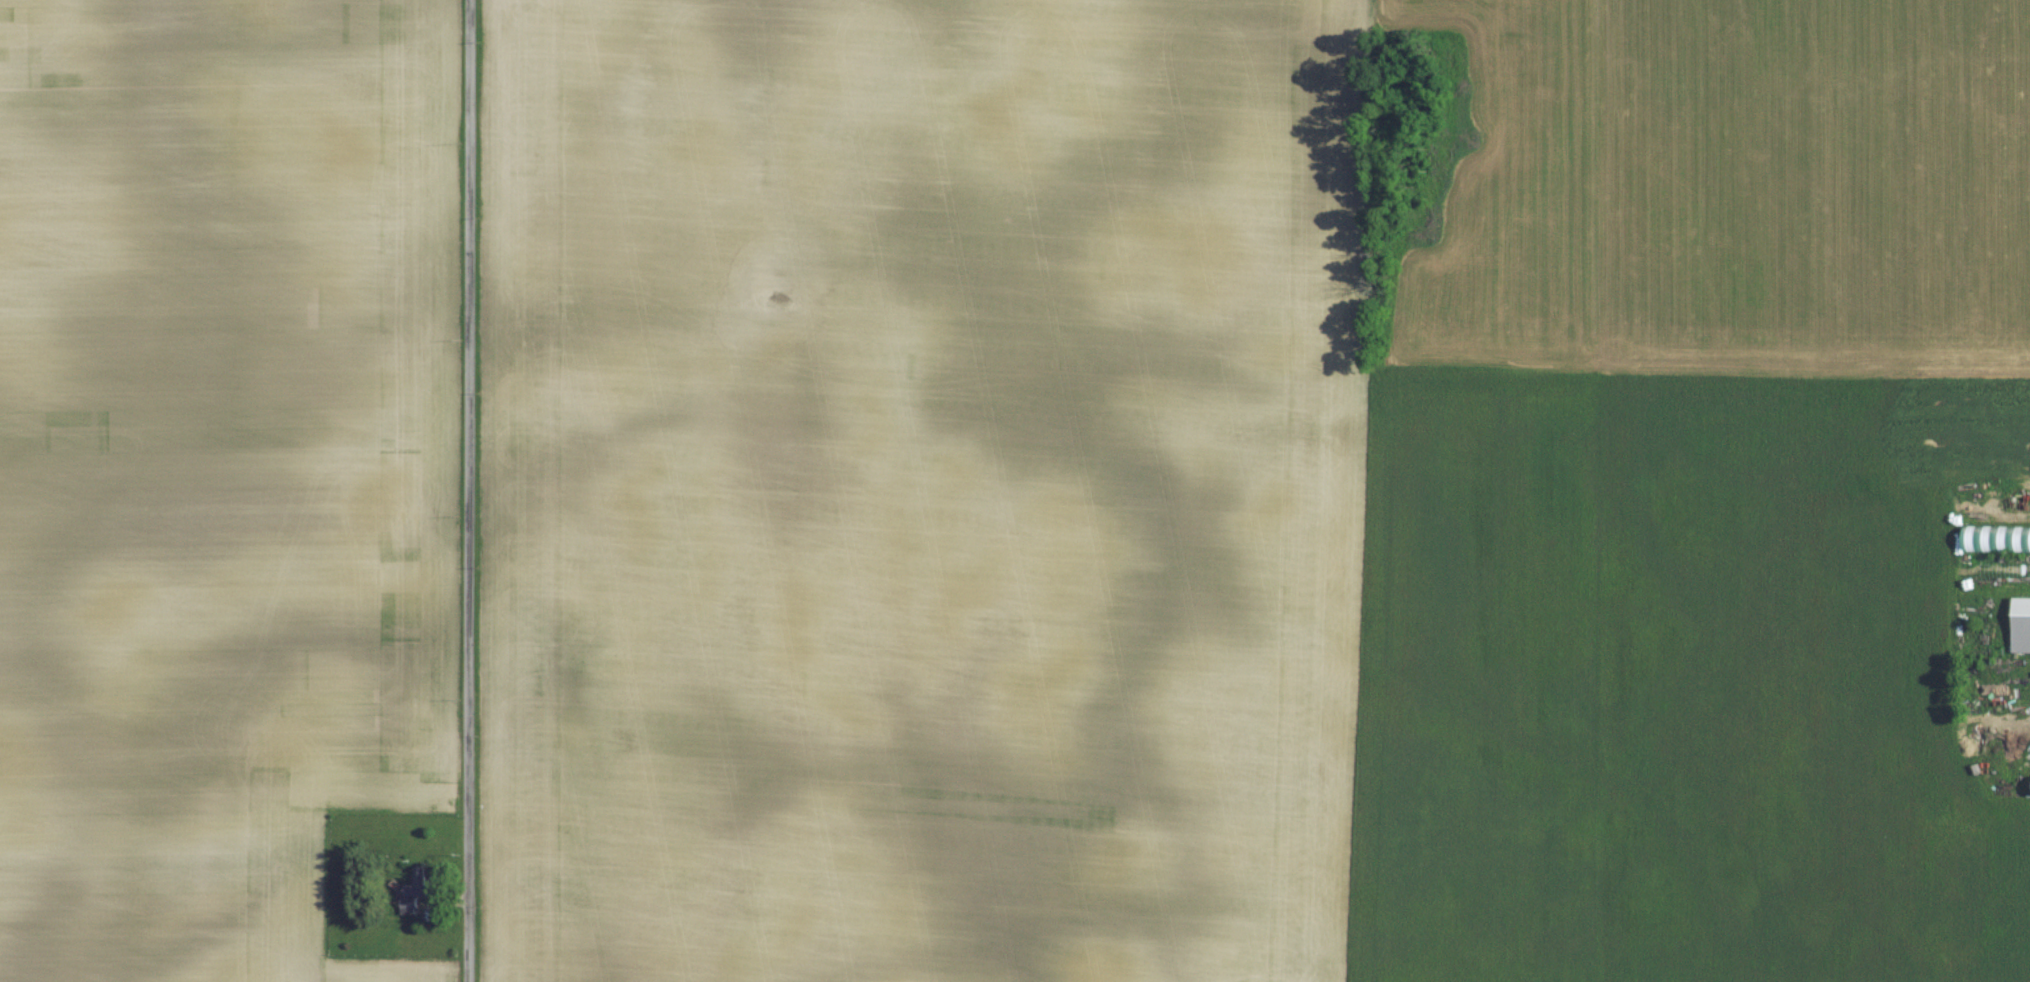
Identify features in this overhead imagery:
road: (465, 491)
building: (2022, 613)
building: (417, 887)

